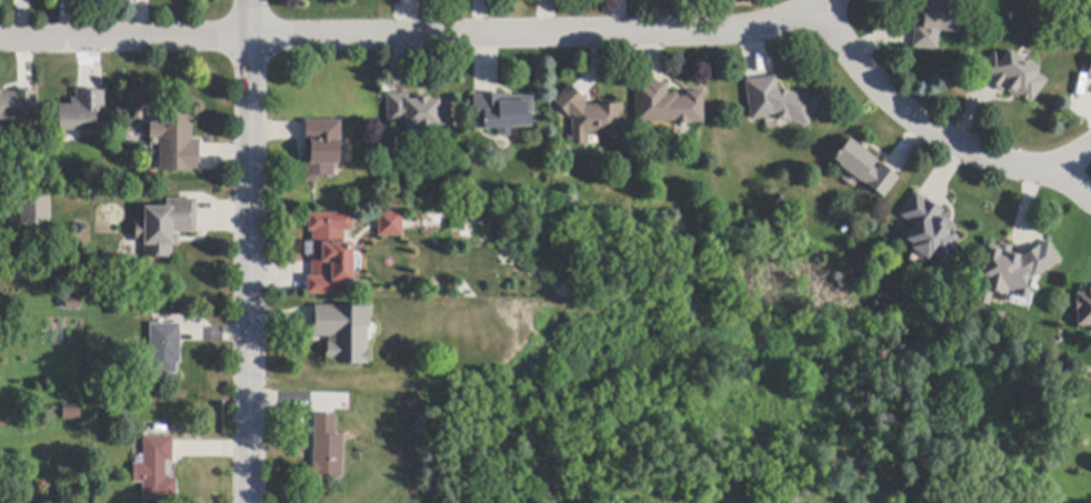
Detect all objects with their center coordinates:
building: (935, 23)
road: (414, 37)
building: (1090, 73)
building: (1014, 76)
building: (778, 102)
building: (17, 103)
building: (667, 105)
building: (82, 111)
building: (419, 113)
building: (502, 113)
building: (589, 115)
road: (921, 123)
building: (177, 142)
building: (322, 149)
building: (865, 168)
road: (1073, 171)
building: (33, 208)
building: (391, 224)
building: (167, 227)
building: (929, 229)
road: (248, 251)
building: (330, 253)
building: (1012, 270)
building: (73, 304)
building: (1084, 309)
building: (344, 333)
building: (164, 349)
building: (72, 413)
building: (328, 449)
building: (156, 470)

